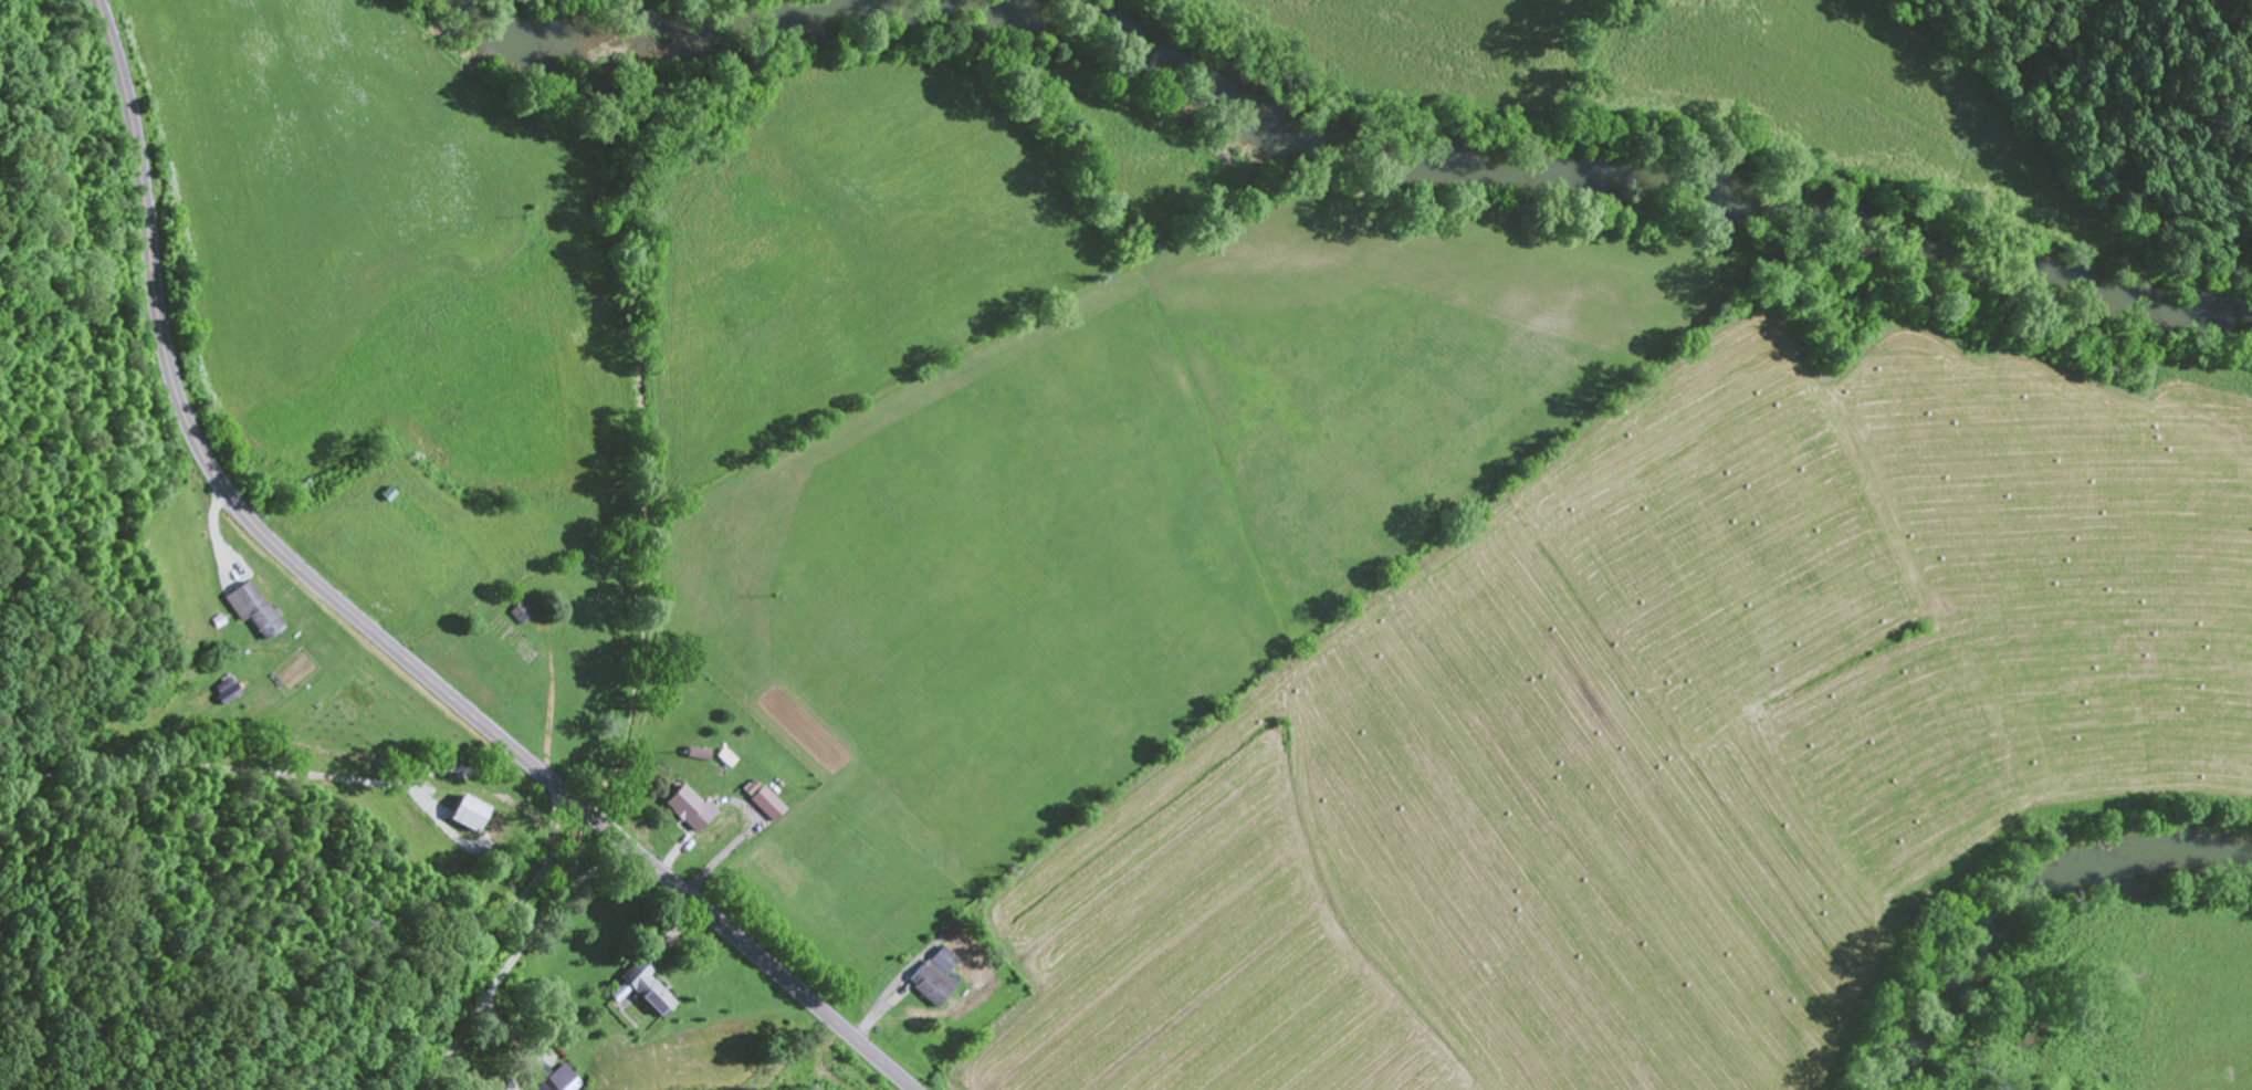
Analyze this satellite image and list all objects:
river: (1347, 139)
road: (2063, 155)
building: (416, 521)
building: (254, 611)
building: (521, 615)
road: (371, 629)
building: (356, 701)
road: (259, 775)
building: (689, 811)
building: (471, 816)
river: (2026, 897)
building: (938, 979)
building: (649, 993)
road: (761, 1041)
building: (543, 1059)
building: (559, 1081)

